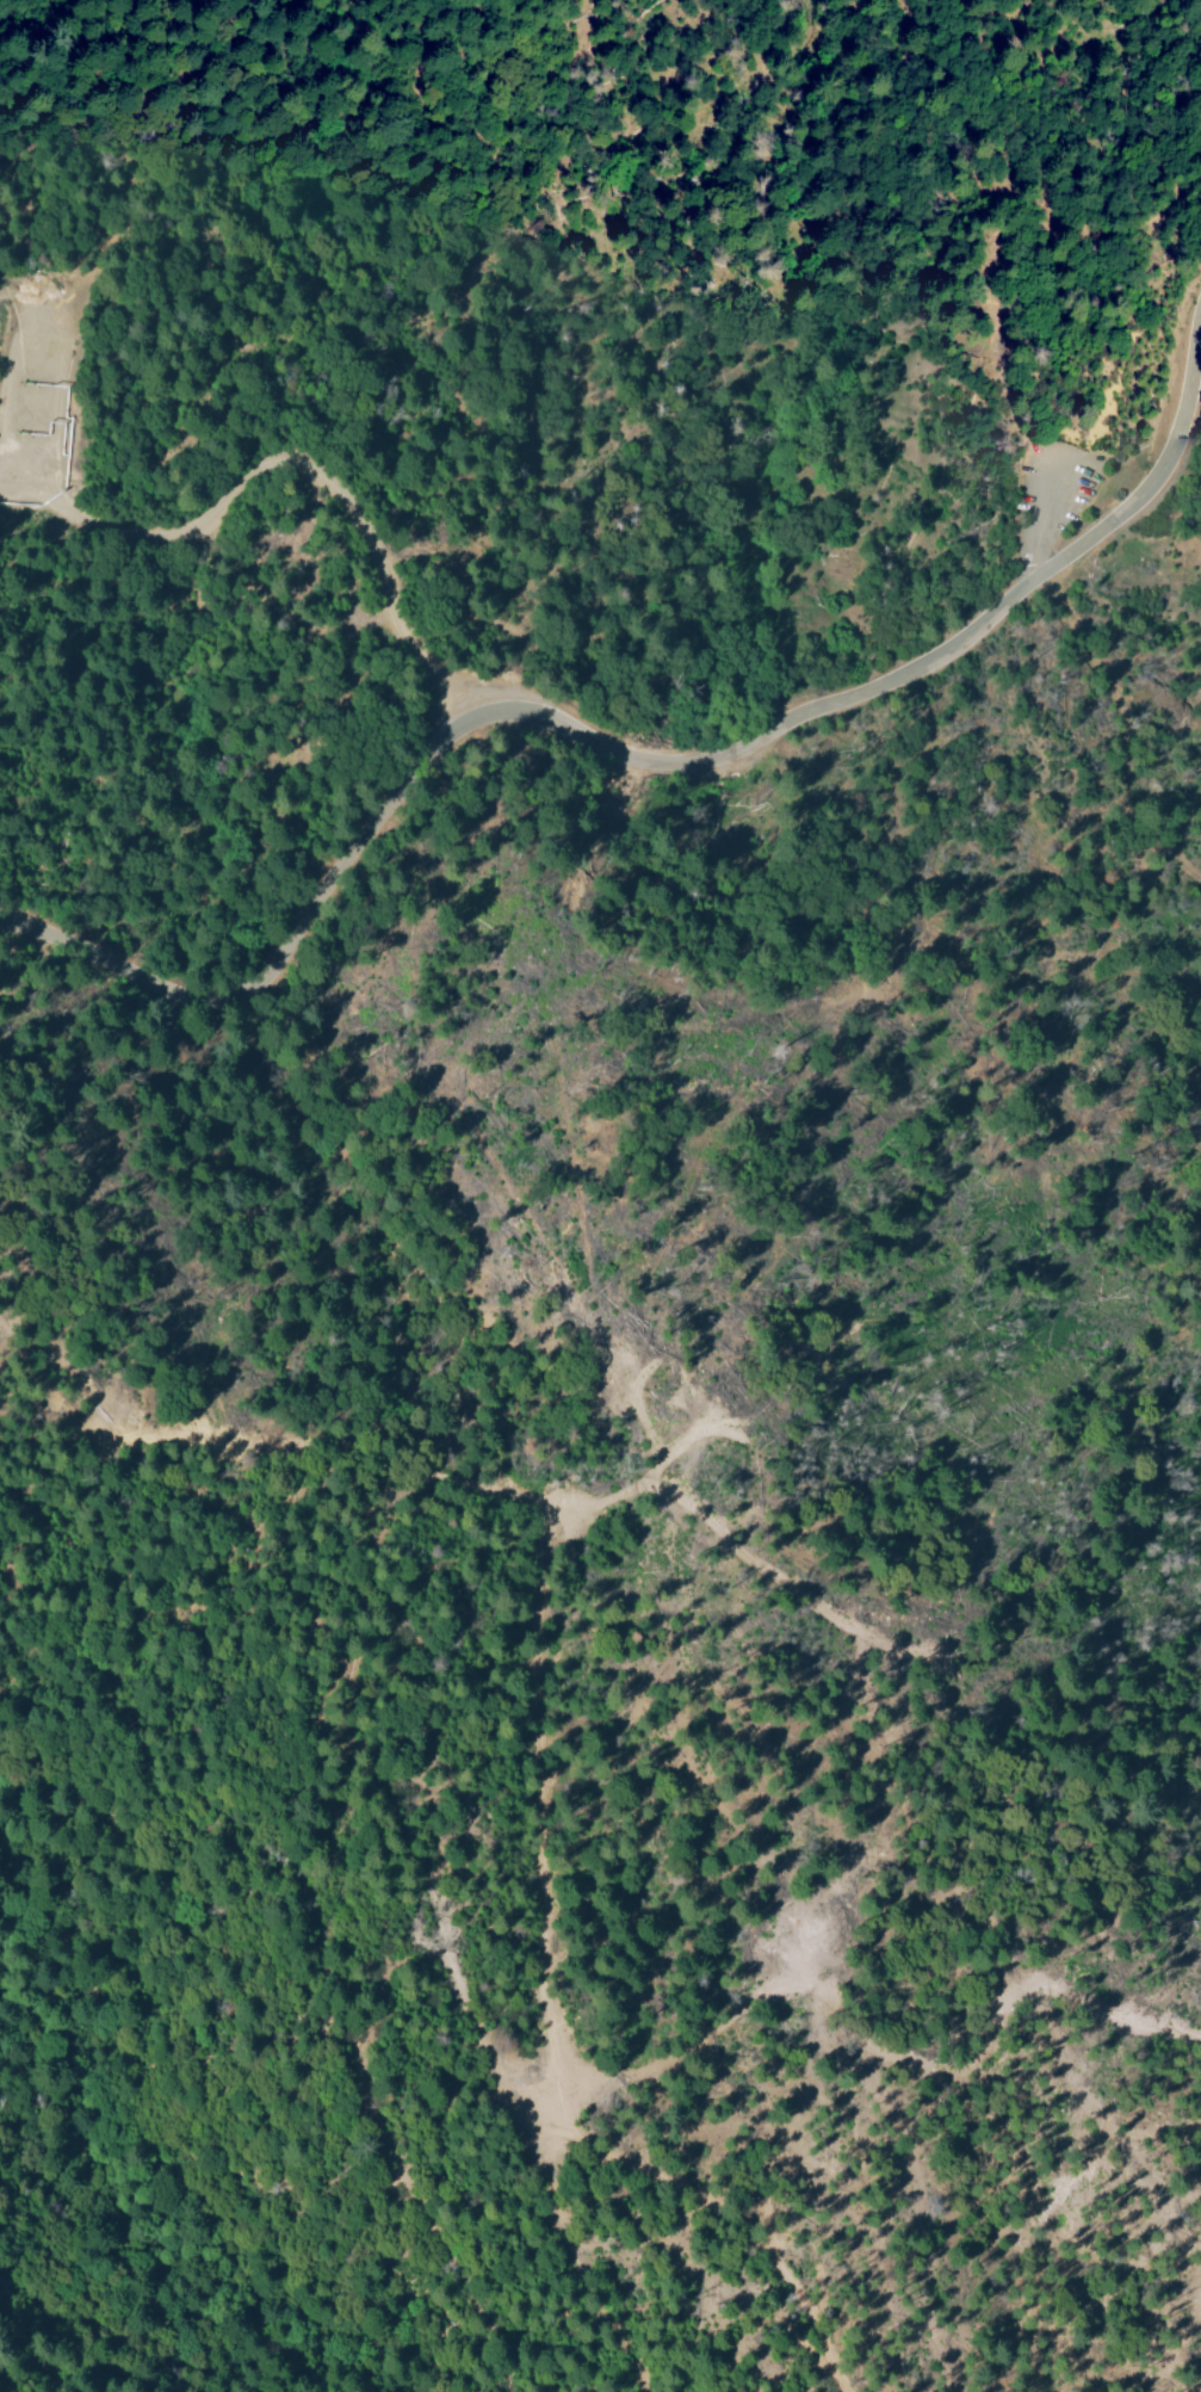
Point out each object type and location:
road: (1023, 341)
road: (1172, 426)
road: (295, 483)
road: (506, 735)
road: (867, 2072)

